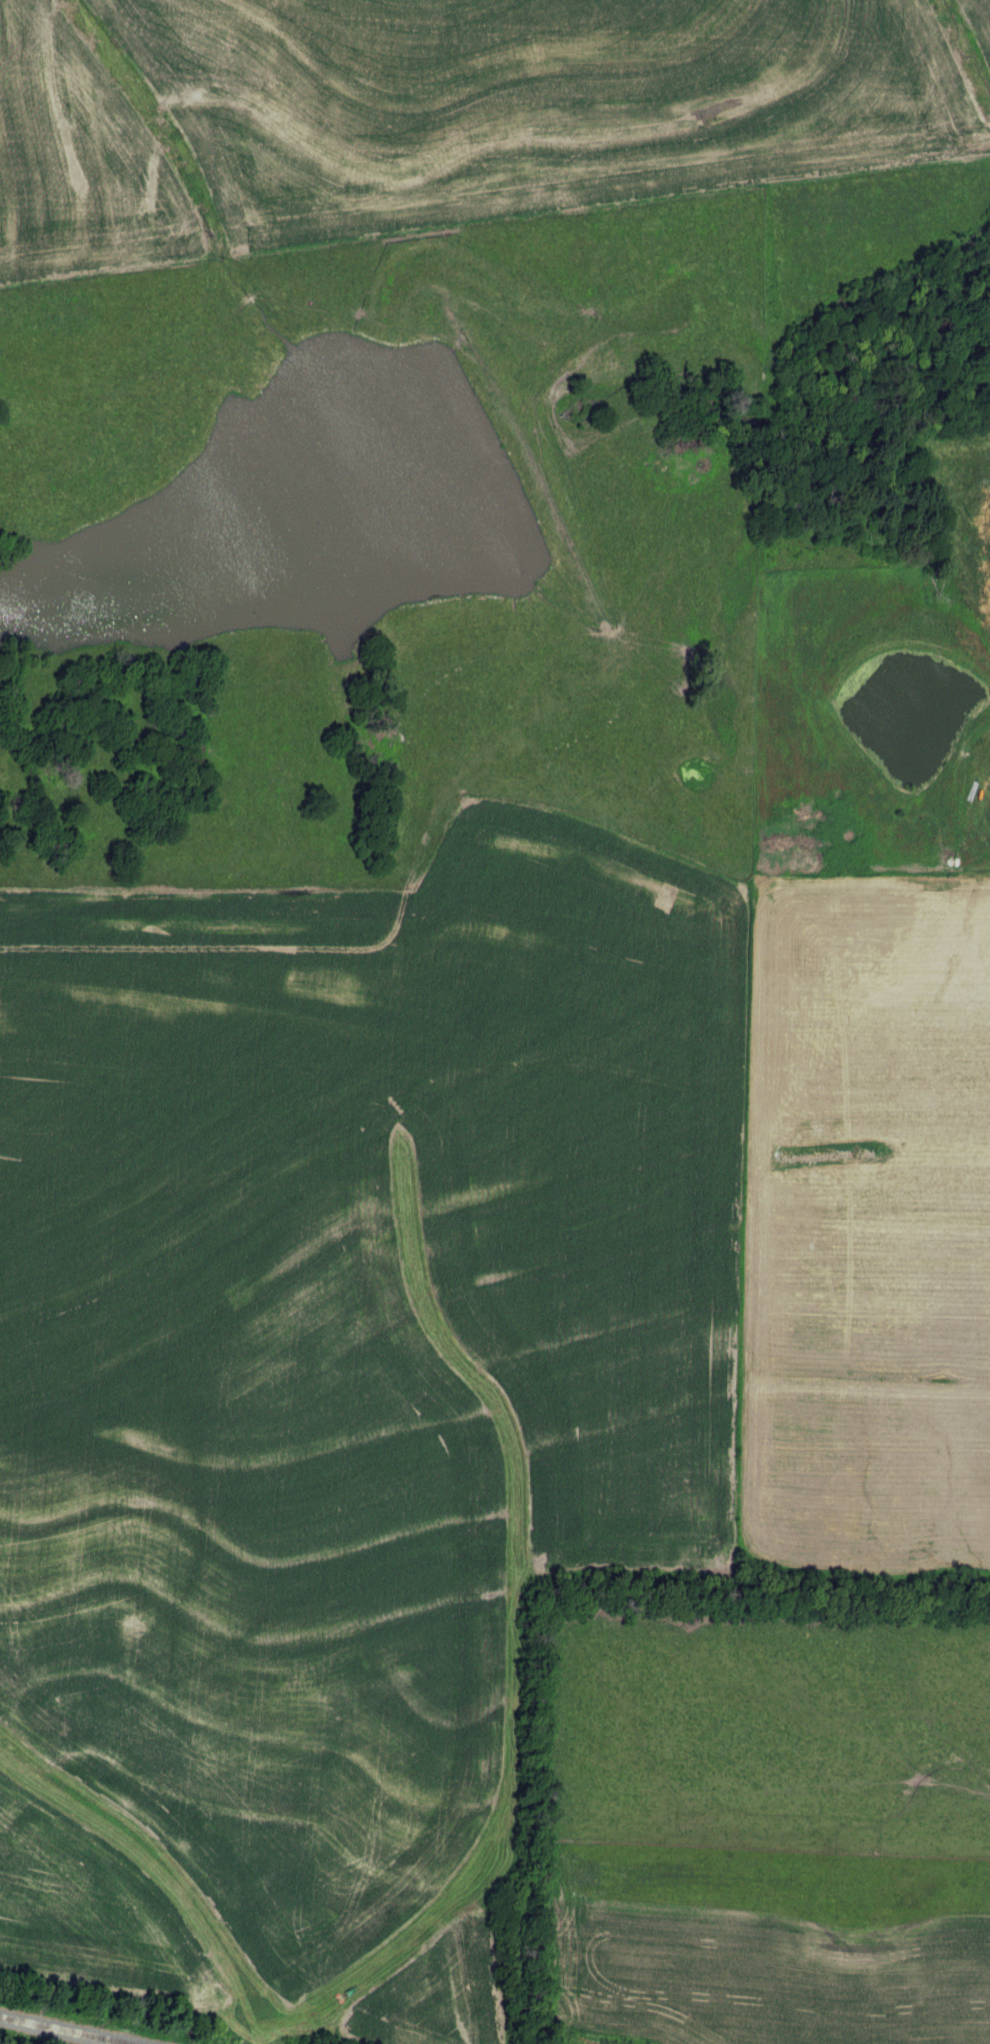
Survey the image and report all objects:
railway: (50, 2033)

